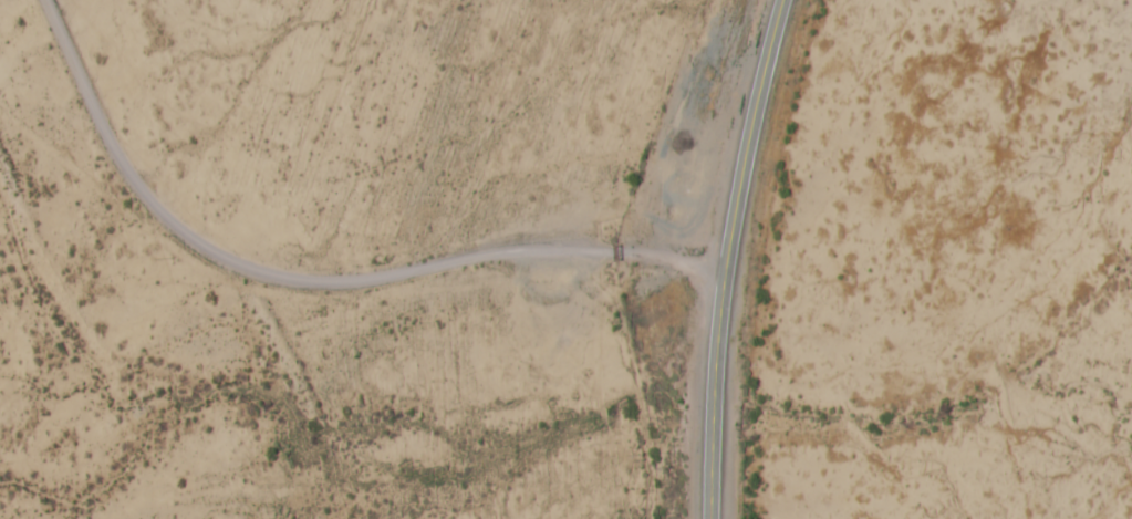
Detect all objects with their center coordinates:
road: (725, 257)
road: (312, 282)
road: (549, 298)
road: (632, 387)

